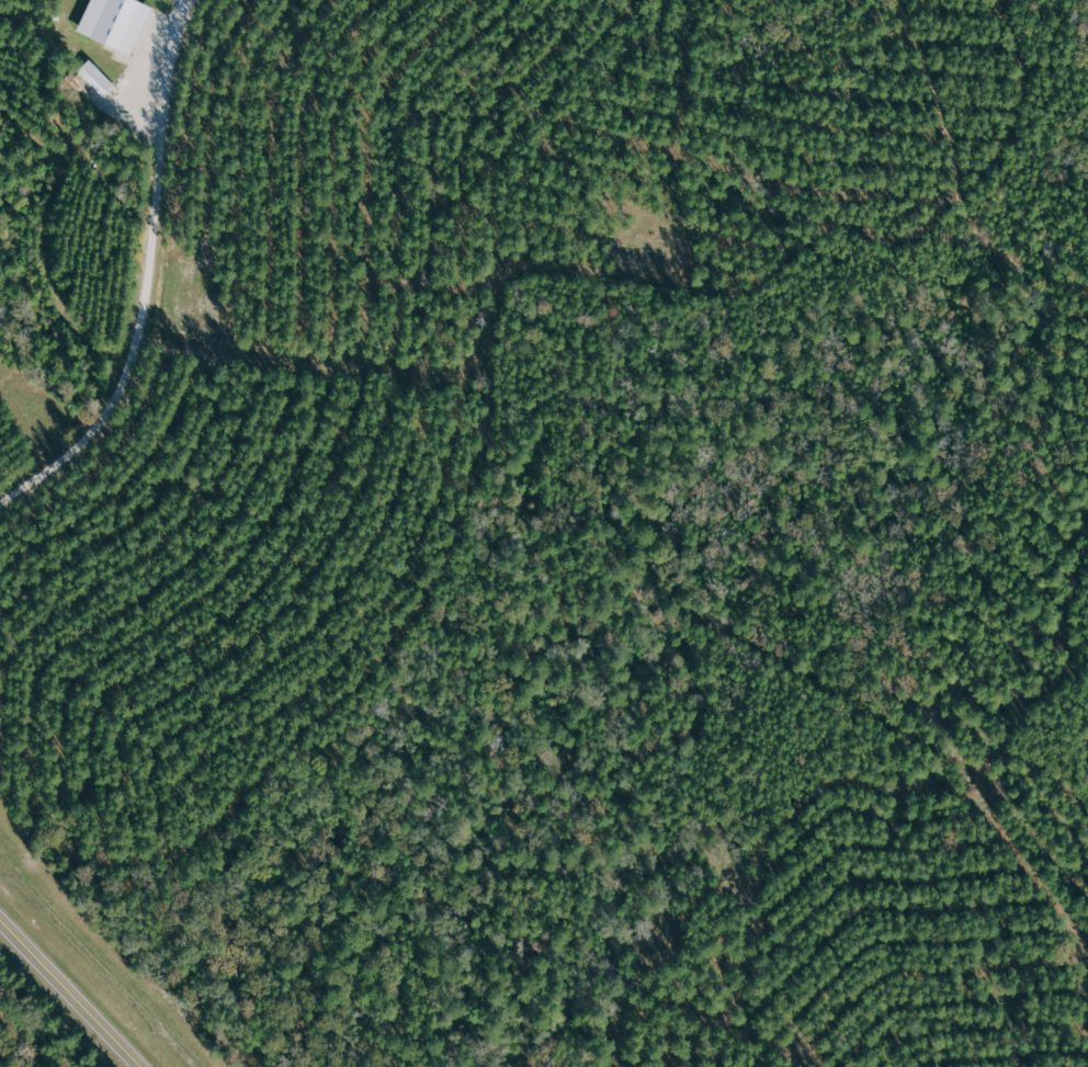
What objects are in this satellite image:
building: (113, 22)
building: (94, 78)
road: (148, 279)
road: (70, 992)

